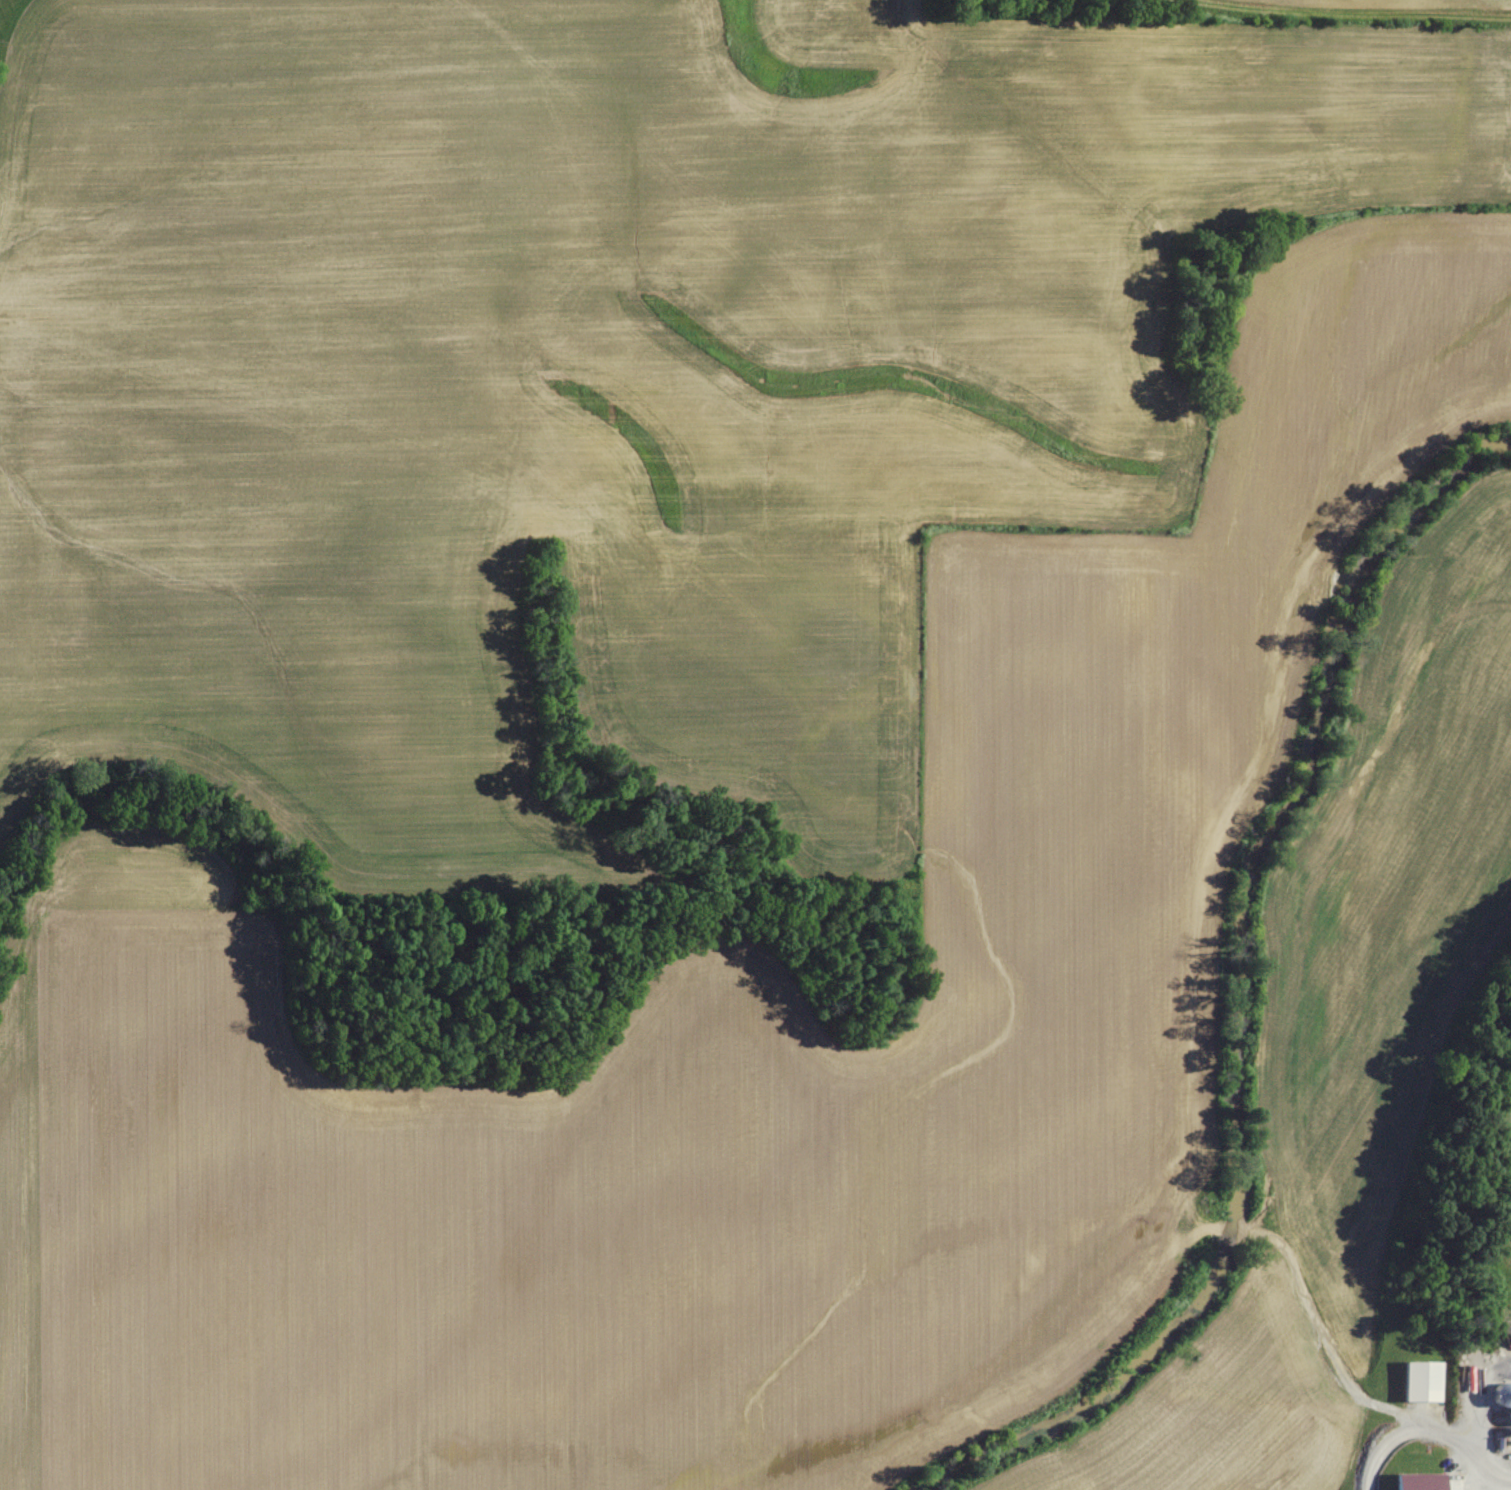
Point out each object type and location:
road: (1318, 1327)
building: (1420, 1382)
road: (1427, 1430)
building: (1416, 1482)

